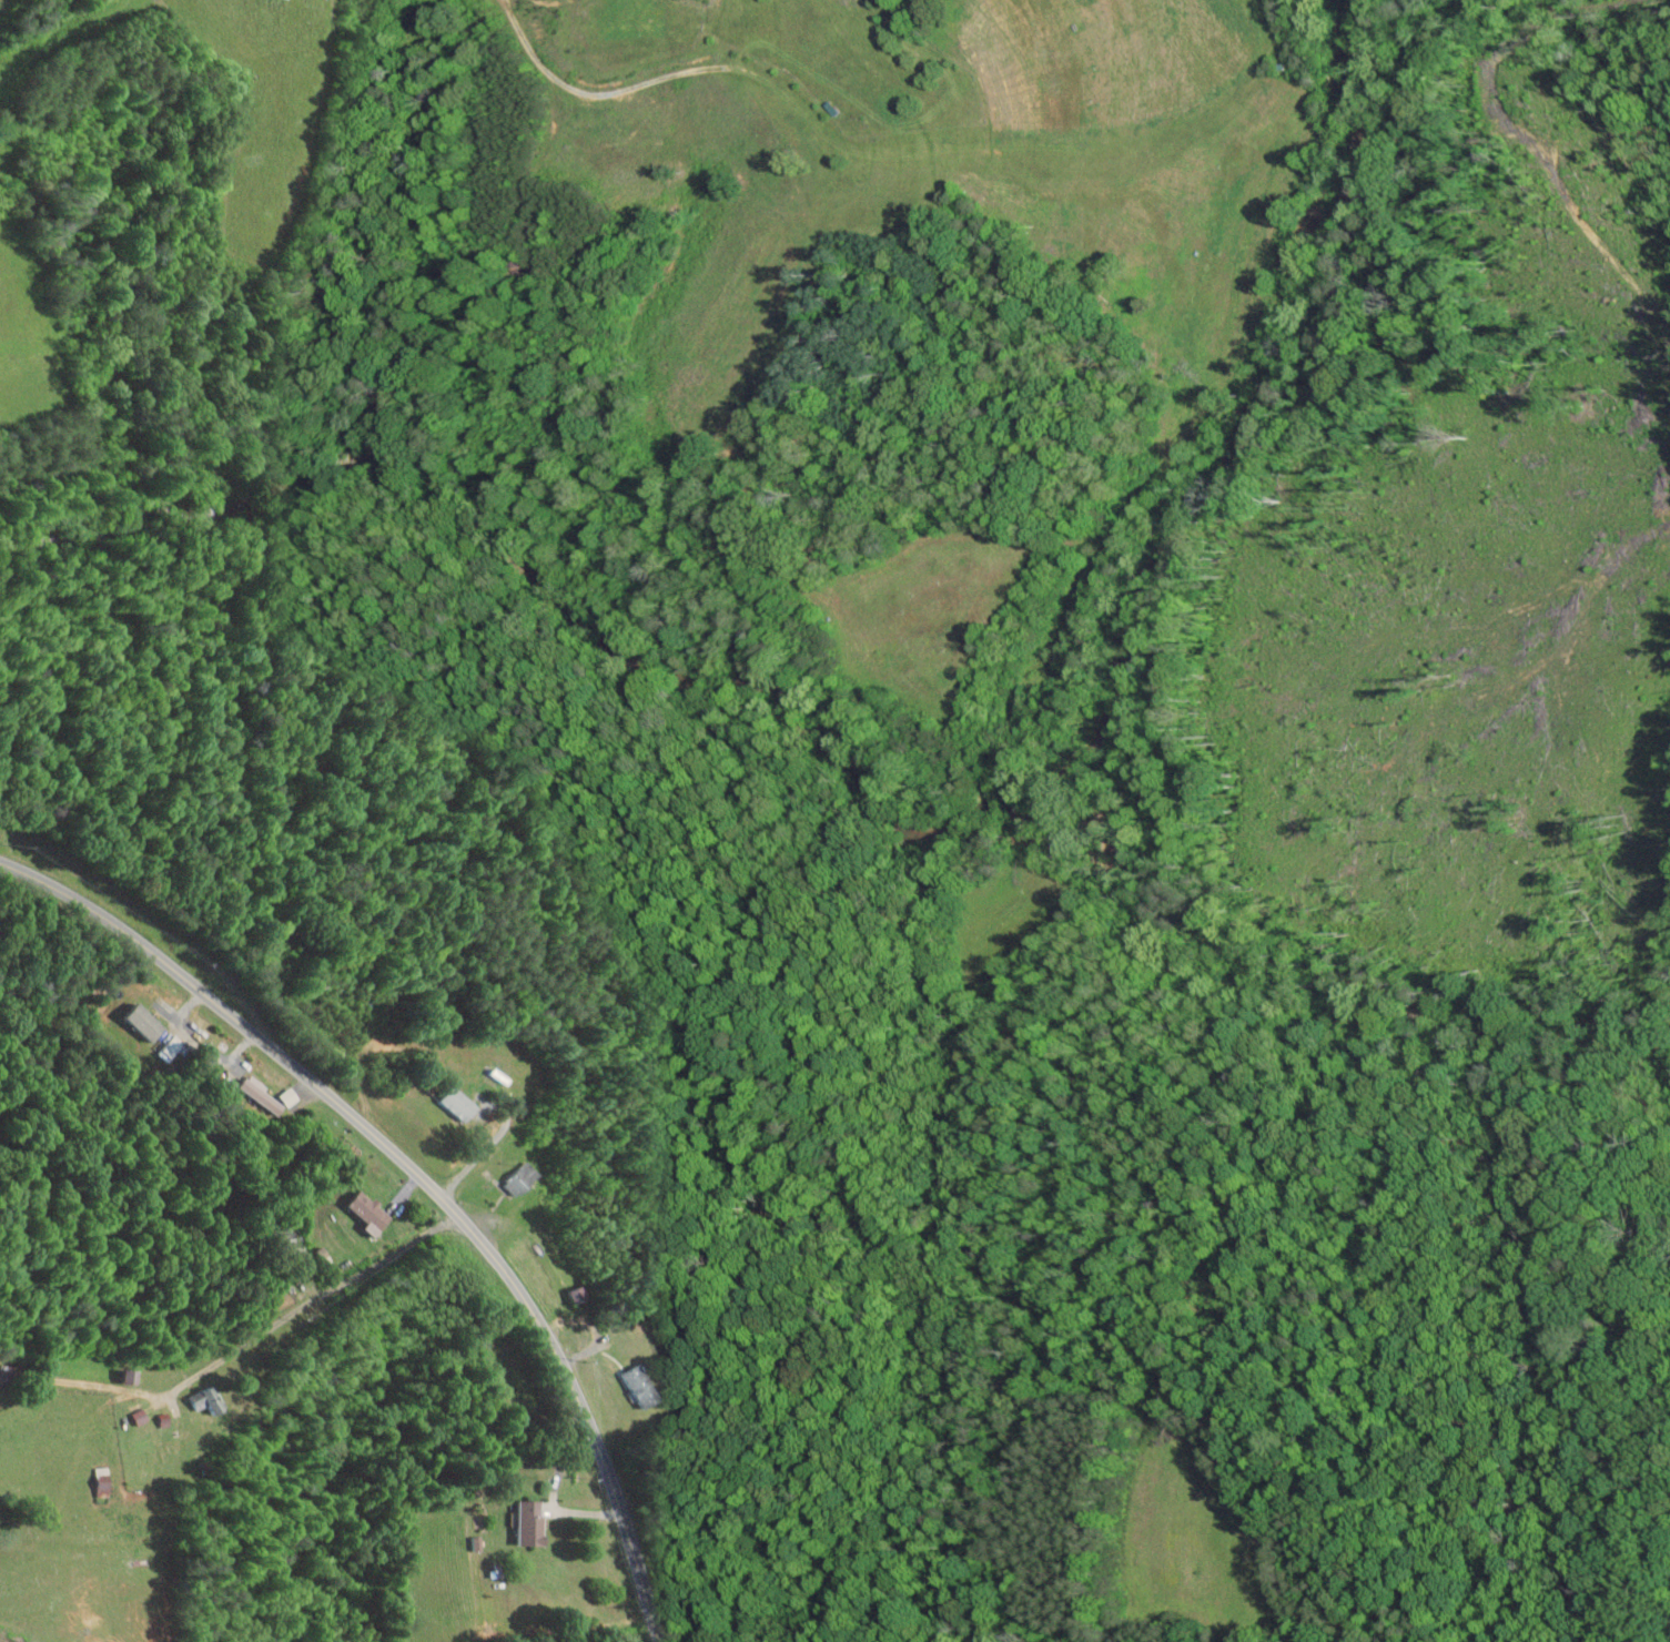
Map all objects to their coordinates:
building: (145, 1023)
building: (266, 1095)
building: (459, 1104)
road: (422, 1177)
building: (522, 1179)
building: (370, 1212)
road: (240, 1349)
building: (131, 1376)
building: (641, 1387)
building: (208, 1400)
building: (141, 1417)
building: (532, 1522)

